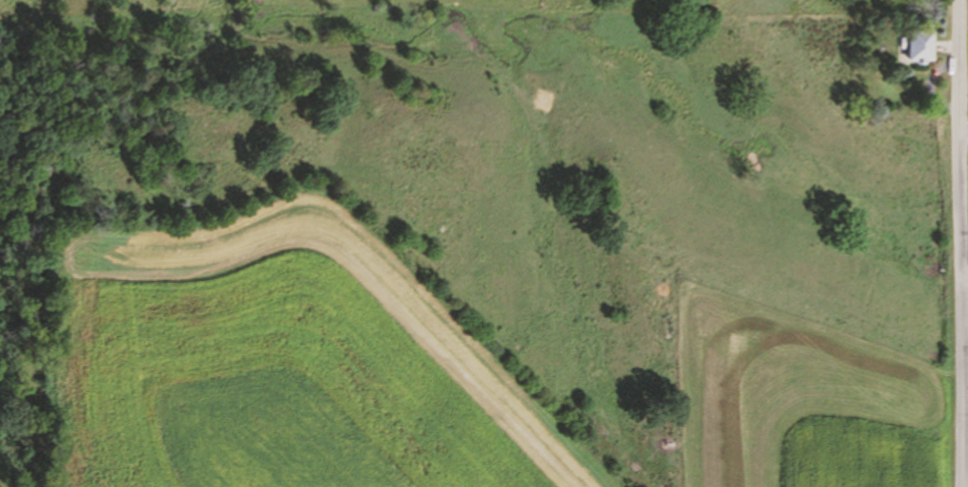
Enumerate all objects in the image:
building: (922, 48)
road: (959, 243)

